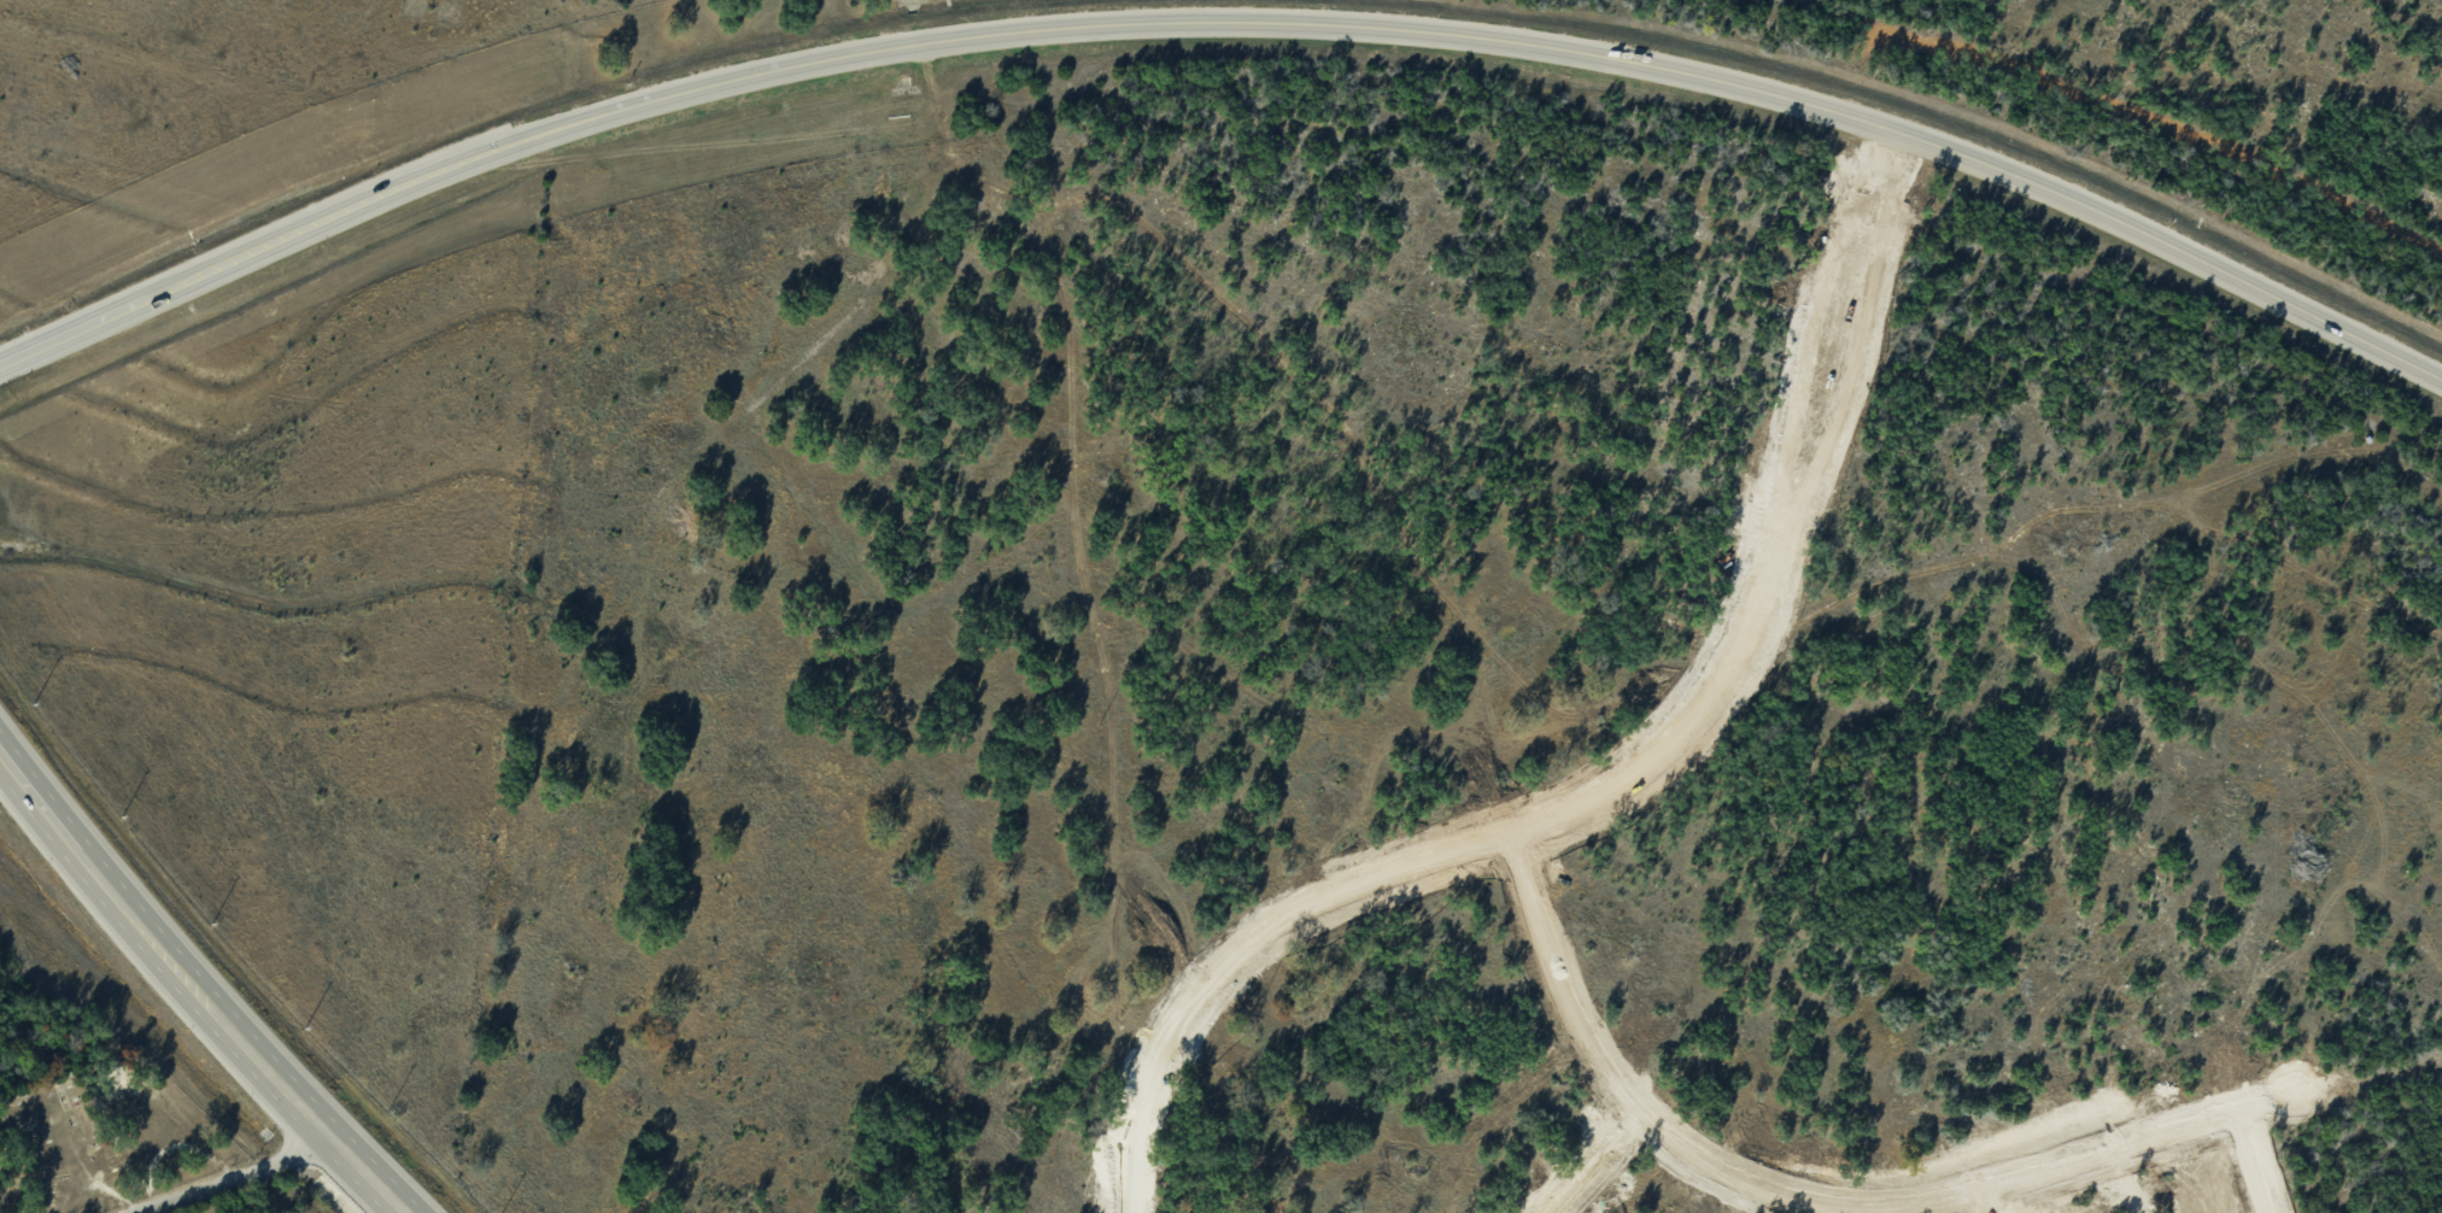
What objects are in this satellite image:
road: (1224, 16)
road: (1764, 523)
road: (1784, 528)
road: (2361, 579)
road: (2379, 831)
road: (1434, 860)
road: (194, 986)
park: (103, 1138)
road: (2172, 1144)
road: (1662, 1148)
road: (1598, 1162)
road: (2254, 1162)
road: (2268, 1168)
road: (236, 1174)
road: (2072, 1174)
road: (1981, 1202)
road: (1886, 1208)
road: (1957, 1211)

